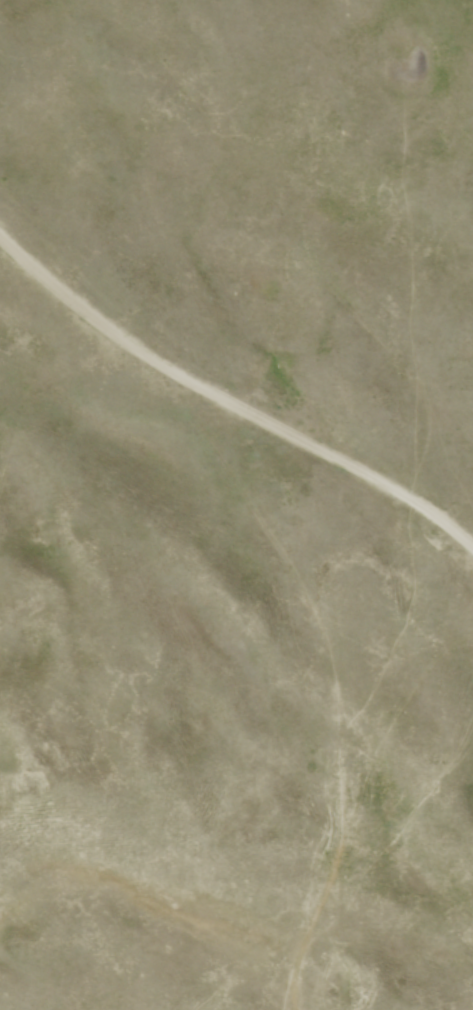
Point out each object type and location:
road: (229, 402)

